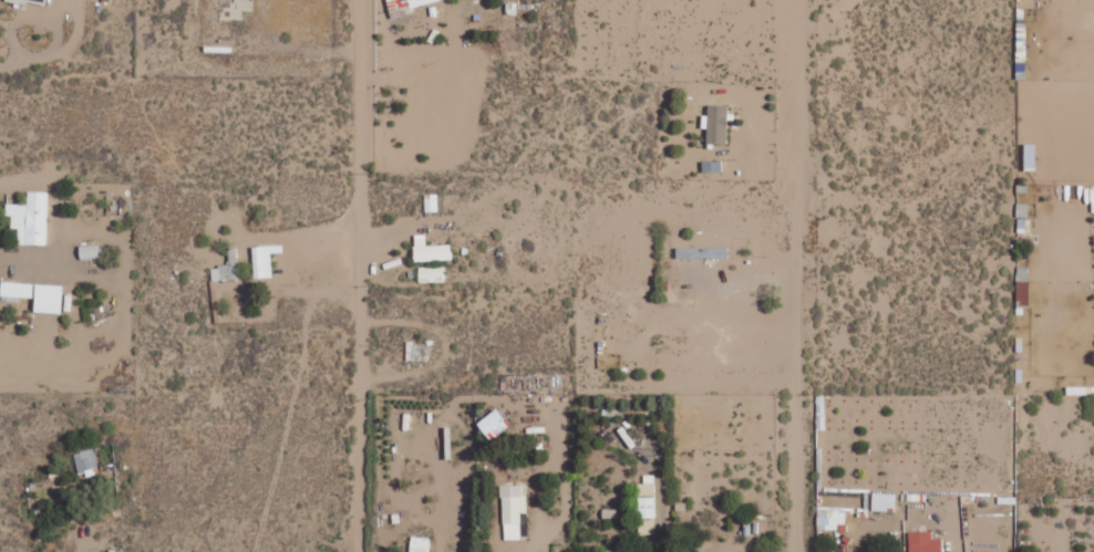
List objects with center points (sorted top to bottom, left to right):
building: (31, 2)
building: (403, 7)
building: (715, 123)
building: (1092, 200)
building: (430, 202)
building: (30, 218)
building: (1021, 218)
building: (432, 252)
building: (701, 252)
building: (262, 260)
building: (226, 268)
building: (431, 274)
road: (353, 275)
road: (796, 275)
building: (35, 295)
building: (493, 425)
building: (85, 461)
building: (647, 487)
building: (883, 501)
building: (646, 507)
building: (512, 510)
building: (830, 518)
building: (923, 542)
building: (419, 544)
building: (620, 551)

